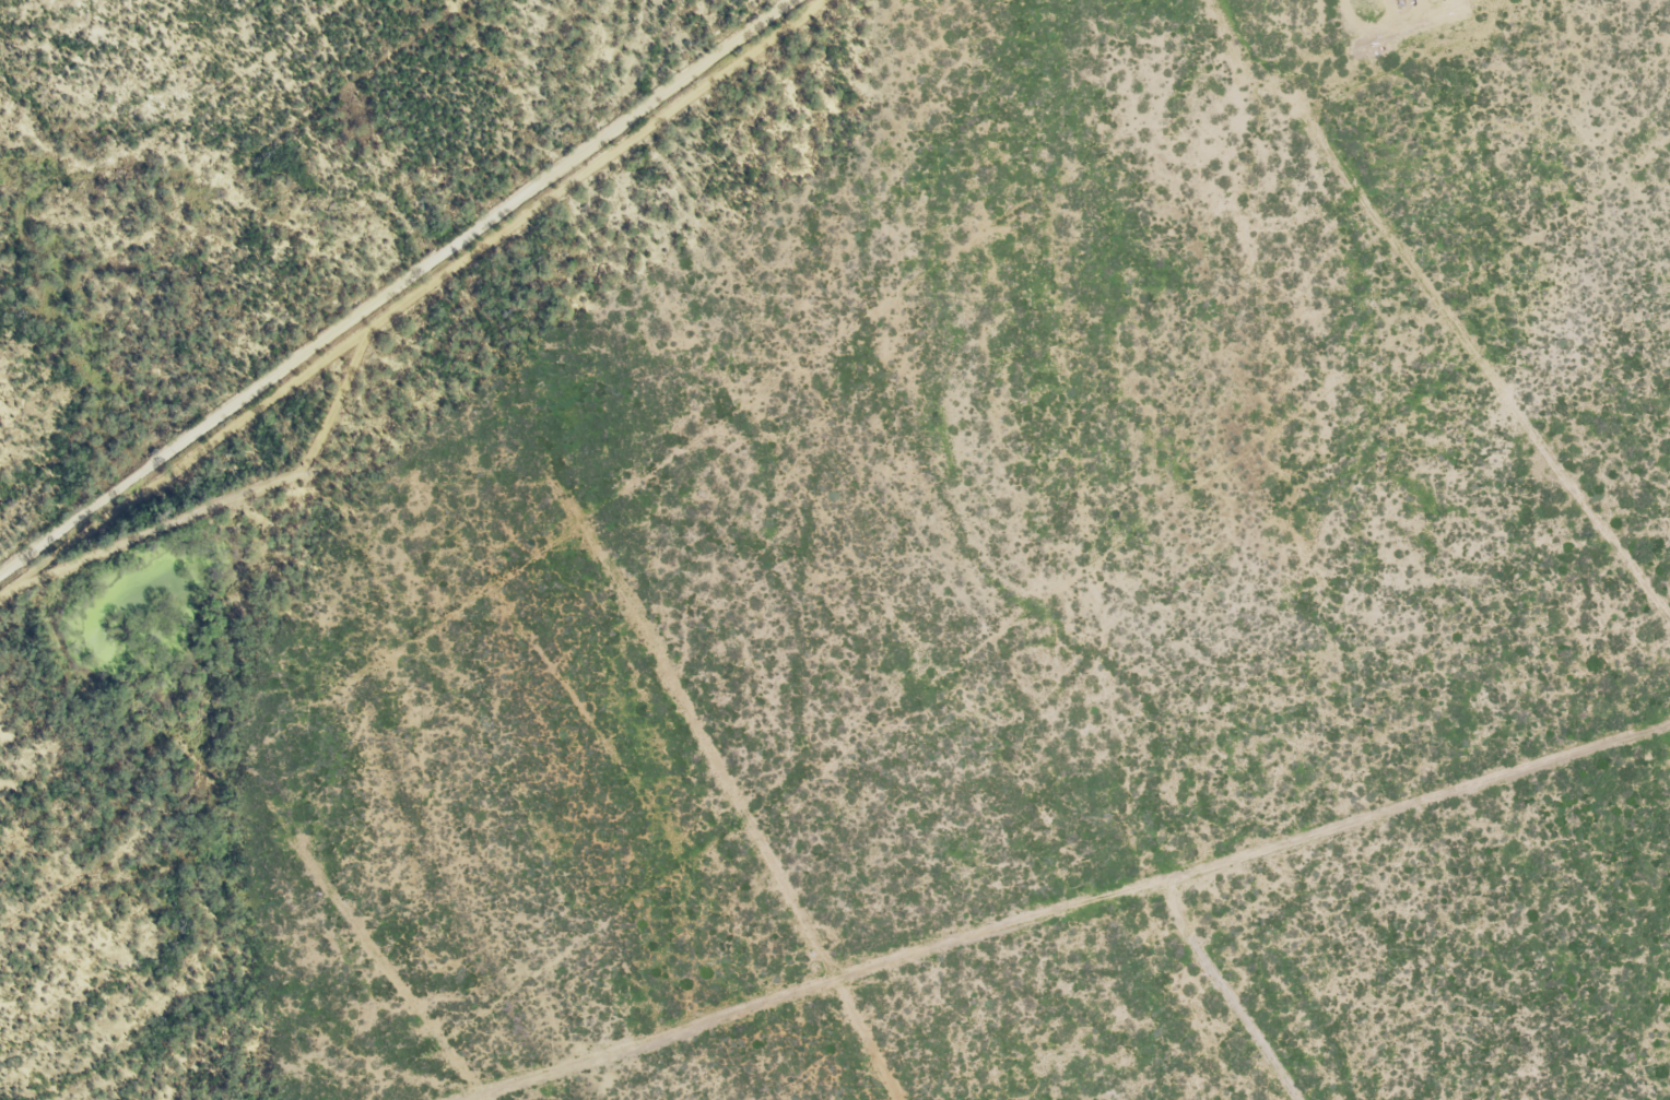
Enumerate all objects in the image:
road: (1059, 912)
road: (1354, 978)

